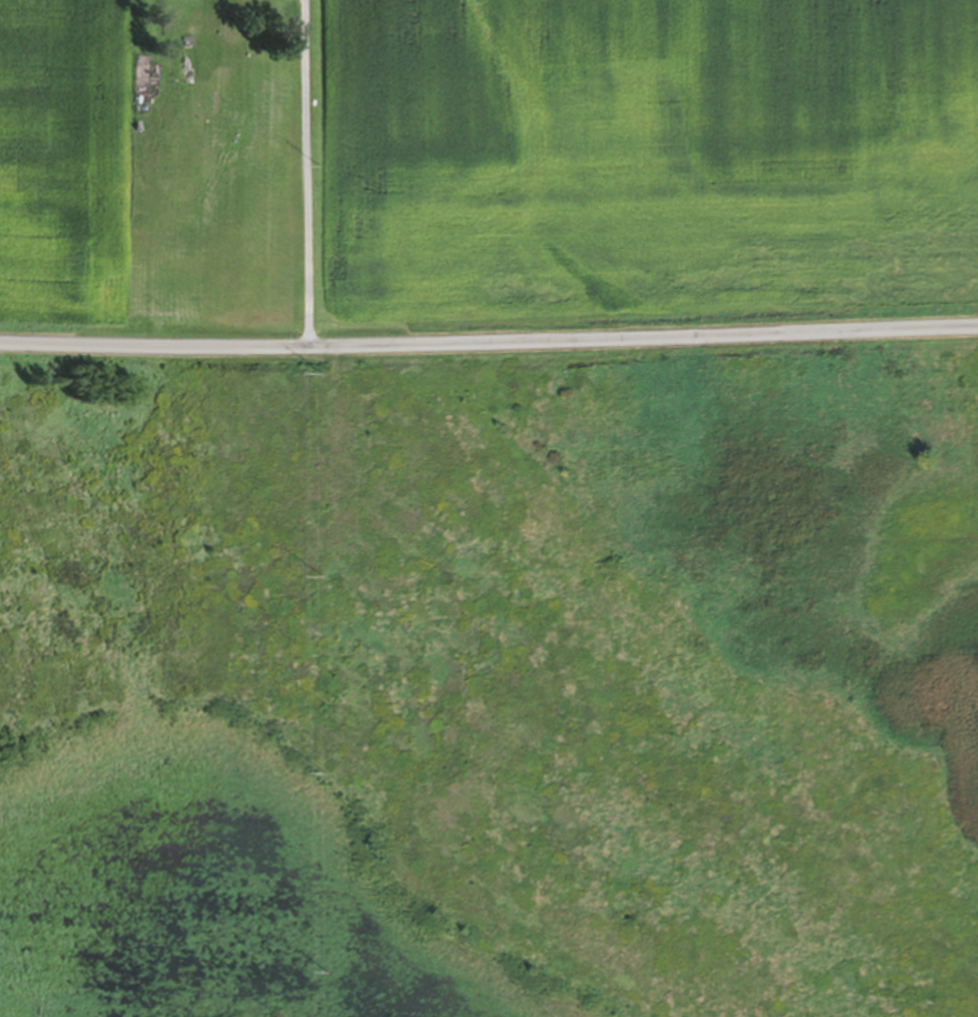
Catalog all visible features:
road: (303, 173)
road: (489, 342)

